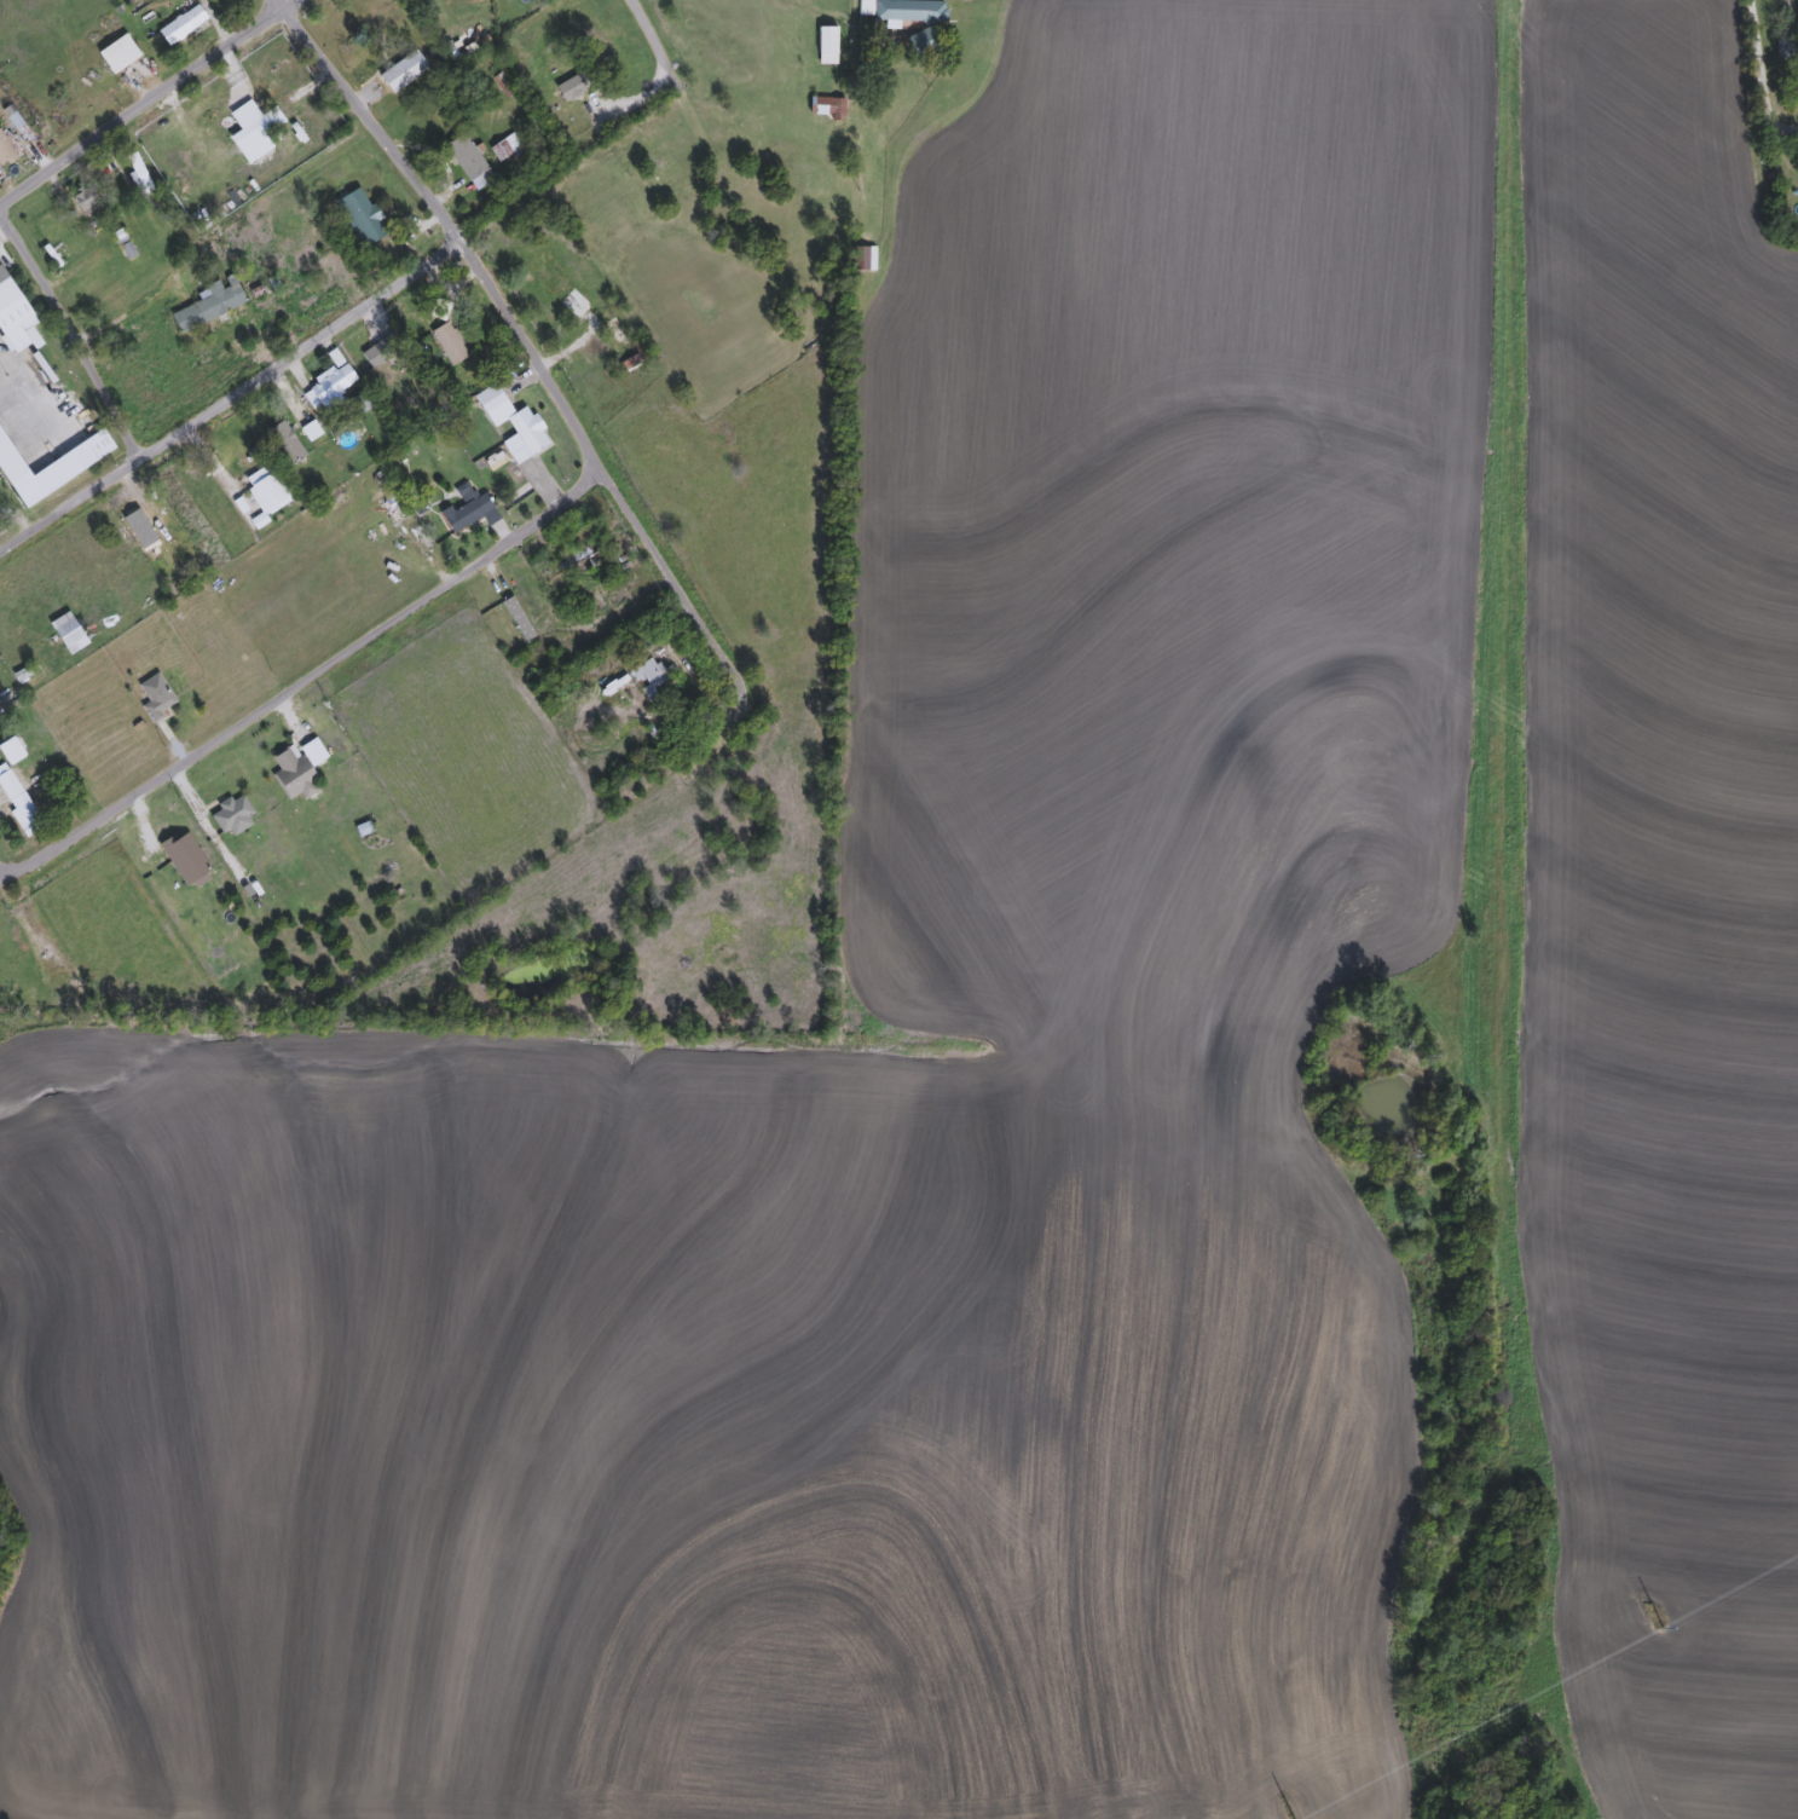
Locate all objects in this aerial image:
building: (910, 11)
building: (388, 17)
building: (183, 24)
building: (597, 40)
building: (828, 45)
building: (118, 53)
road: (660, 59)
building: (404, 71)
road: (1759, 77)
building: (573, 86)
road: (151, 102)
building: (5, 149)
building: (470, 162)
building: (138, 172)
building: (364, 215)
building: (532, 258)
building: (866, 259)
building: (210, 306)
building: (12, 308)
road: (123, 312)
road: (508, 329)
road: (69, 334)
building: (614, 334)
building: (450, 343)
building: (374, 356)
building: (330, 386)
road: (227, 397)
road: (16, 410)
building: (511, 417)
building: (288, 443)
building: (10, 457)
building: (226, 457)
building: (472, 513)
building: (584, 561)
building: (57, 649)
building: (651, 677)
road: (300, 680)
building: (156, 695)
road: (729, 705)
building: (296, 775)
building: (18, 801)
building: (233, 816)
building: (629, 1000)
power tower: (1650, 1618)
power tower: (1280, 1808)

